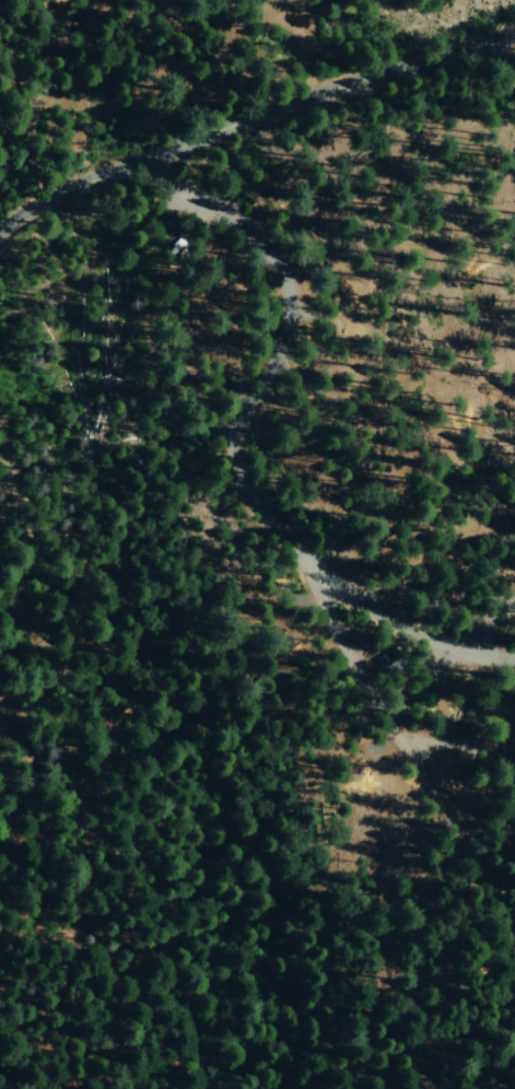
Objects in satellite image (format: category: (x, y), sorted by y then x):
road: (251, 116)
road: (245, 450)
road: (482, 619)

